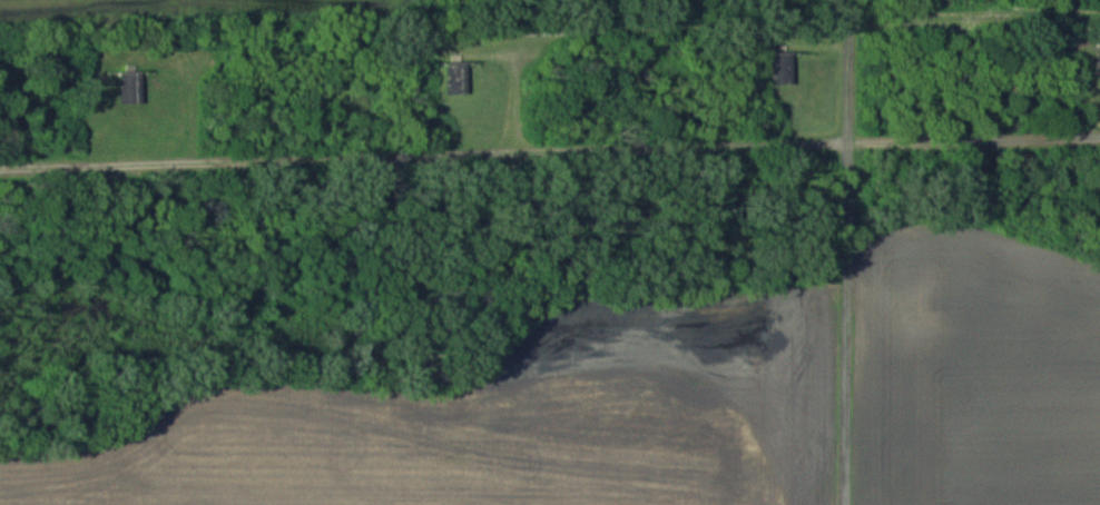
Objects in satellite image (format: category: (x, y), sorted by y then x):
building: (129, 87)
road: (550, 157)
road: (853, 253)

